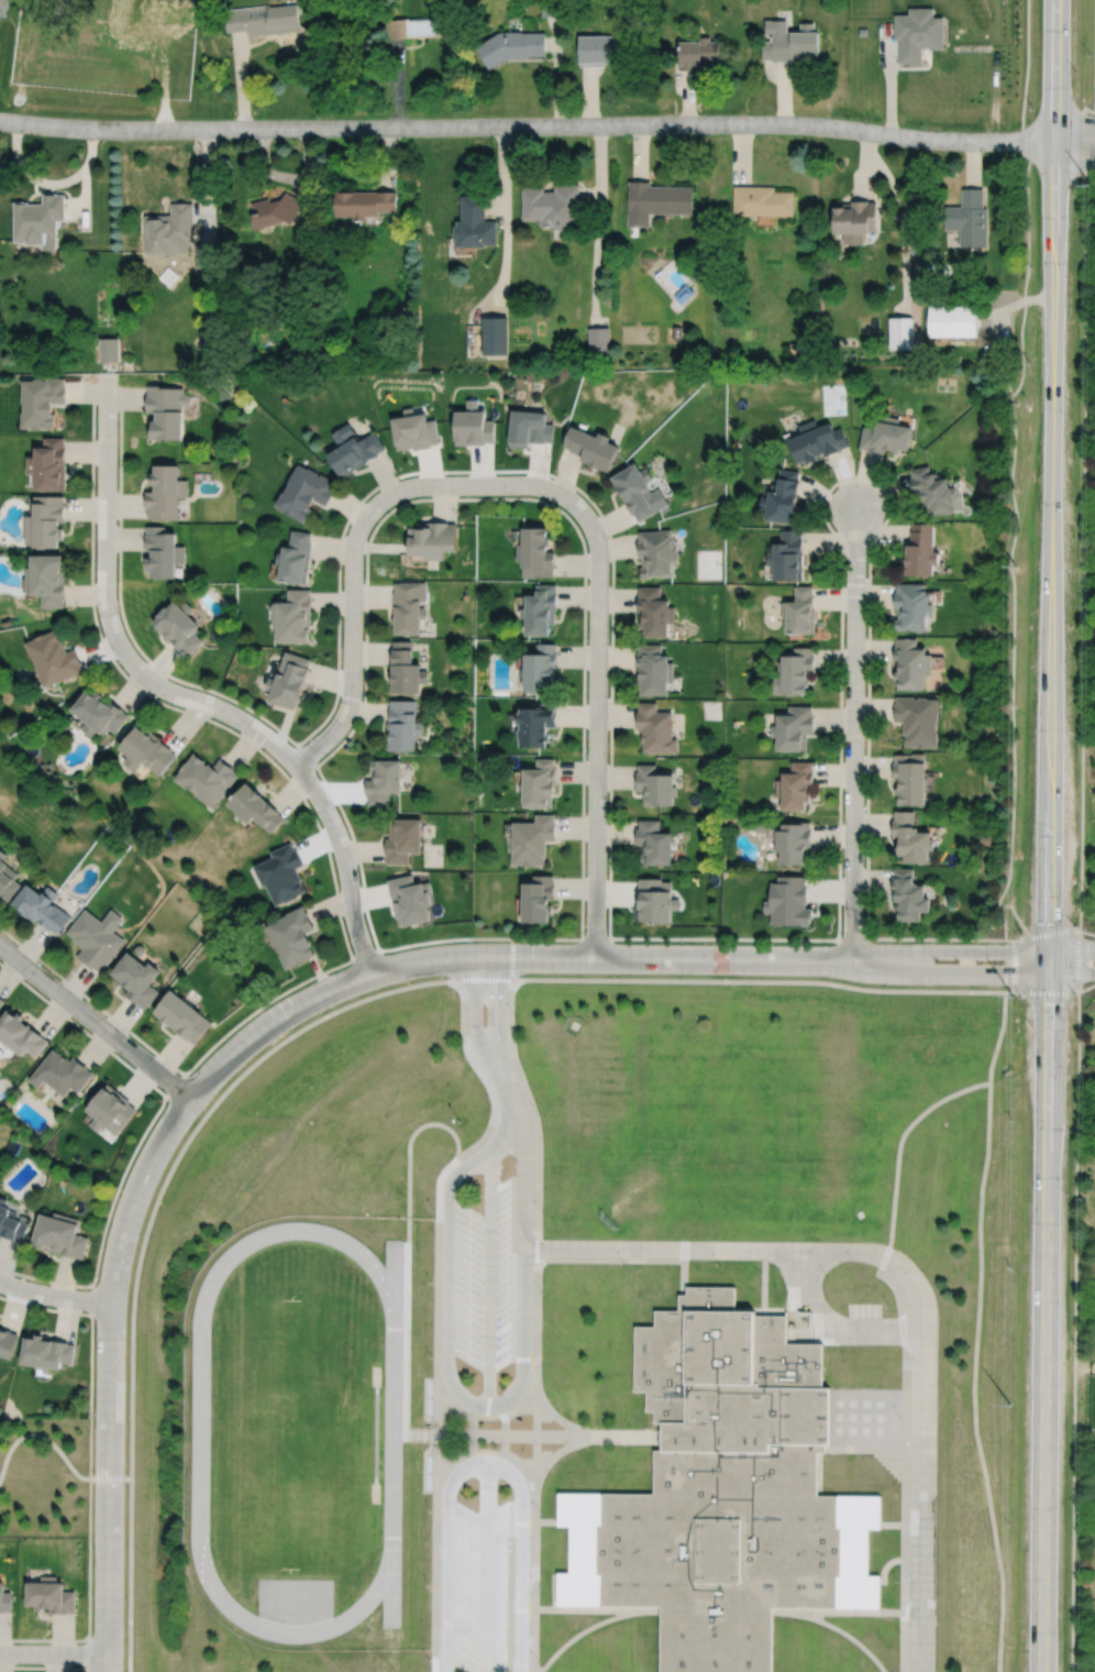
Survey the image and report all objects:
building: (549, 8)
building: (162, 10)
building: (262, 20)
building: (418, 26)
building: (917, 33)
building: (788, 42)
building: (511, 44)
road: (664, 47)
building: (601, 50)
building: (697, 53)
street lamp: (1076, 71)
road: (556, 73)
road: (162, 79)
road: (891, 79)
road: (240, 80)
road: (1025, 80)
road: (396, 82)
road: (784, 94)
road: (590, 97)
road: (689, 98)
road: (1088, 110)
road: (527, 127)
road: (1074, 133)
road: (1083, 139)
road: (1074, 150)
road: (640, 152)
road: (742, 154)
road: (386, 156)
road: (866, 163)
road: (972, 164)
street lamp: (1094, 168)
road: (1052, 169)
road: (1088, 170)
road: (285, 177)
road: (49, 183)
road: (204, 186)
road: (84, 197)
building: (656, 200)
building: (762, 200)
building: (363, 201)
building: (551, 207)
building: (275, 209)
building: (972, 218)
building: (855, 219)
building: (37, 220)
building: (474, 222)
road: (599, 226)
road: (904, 226)
road: (506, 229)
building: (167, 230)
building: (912, 248)
building: (204, 257)
building: (684, 294)
road: (1016, 302)
building: (953, 320)
building: (676, 332)
building: (900, 332)
building: (495, 334)
building: (598, 339)
building: (204, 342)
building: (799, 348)
building: (108, 350)
building: (41, 402)
building: (165, 411)
building: (473, 425)
building: (528, 429)
building: (413, 430)
building: (886, 436)
building: (816, 441)
building: (352, 449)
building: (590, 449)
building: (48, 466)
street lamp: (444, 473)
road: (1051, 475)
street lamp: (551, 477)
road: (471, 484)
building: (933, 491)
building: (303, 492)
building: (639, 493)
building: (164, 494)
street lamp: (365, 498)
building: (782, 498)
street lamp: (884, 519)
building: (44, 521)
street lamp: (115, 522)
street lamp: (607, 537)
building: (432, 539)
road: (1011, 547)
building: (922, 551)
building: (162, 554)
building: (534, 554)
building: (656, 554)
building: (787, 557)
building: (295, 559)
street lamp: (363, 574)
road: (1083, 580)
building: (46, 581)
building: (408, 607)
building: (914, 607)
building: (539, 613)
building: (799, 613)
building: (654, 615)
building: (292, 618)
building: (177, 628)
street lamp: (866, 635)
street lamp: (587, 639)
road: (352, 647)
building: (53, 660)
street lamp: (118, 663)
building: (911, 663)
building: (407, 669)
building: (540, 669)
building: (794, 671)
building: (653, 672)
building: (289, 678)
road: (184, 695)
street lamp: (362, 695)
road: (584, 697)
building: (98, 711)
building: (917, 717)
street lamp: (213, 718)
park: (0, 723)
building: (539, 723)
building: (403, 724)
building: (793, 725)
road: (597, 728)
building: (654, 728)
road: (853, 734)
building: (146, 748)
street lamp: (864, 749)
street lamp: (586, 755)
road: (306, 756)
building: (207, 777)
street lamp: (319, 777)
building: (910, 777)
building: (384, 779)
building: (541, 782)
building: (653, 783)
building: (794, 783)
building: (255, 805)
building: (911, 836)
road: (322, 837)
building: (403, 838)
building: (533, 838)
building: (653, 842)
building: (793, 842)
street lamp: (863, 865)
street lamp: (585, 870)
building: (283, 873)
building: (7, 877)
street lamp: (339, 889)
building: (908, 894)
building: (539, 899)
building: (409, 900)
building: (654, 901)
building: (788, 901)
building: (42, 906)
road: (609, 909)
road: (1086, 932)
street lamp: (1021, 935)
building: (295, 936)
building: (97, 937)
road: (595, 938)
road: (852, 938)
street lamp: (472, 941)
street lamp: (569, 942)
street lamp: (720, 943)
street lamp: (826, 945)
road: (1071, 949)
road: (949, 950)
traffic signals: (1048, 950)
road: (365, 955)
road: (499, 956)
road: (511, 958)
road: (1048, 963)
road: (1017, 965)
street lamp: (342, 967)
road: (949, 974)
road: (1071, 974)
traffic signals: (1048, 976)
building: (137, 978)
road: (482, 979)
road: (757, 980)
street lamp: (25, 981)
road: (1086, 987)
road: (1010, 991)
road: (1048, 992)
building: (1, 1001)
street lamp: (262, 1010)
building: (184, 1016)
road: (495, 1016)
road: (475, 1021)
road: (96, 1022)
building: (21, 1034)
street lamp: (131, 1035)
road: (1000, 1037)
park: (626, 1059)
street lamp: (192, 1070)
building: (63, 1072)
road: (484, 1075)
road: (506, 1083)
road: (175, 1086)
building: (112, 1110)
road: (532, 1112)
road: (504, 1120)
road: (143, 1133)
road: (898, 1153)
road: (463, 1167)
road: (527, 1167)
street lamp: (121, 1187)
park: (849, 1197)
building: (11, 1223)
building: (62, 1235)
road: (143, 1240)
road: (750, 1251)
road: (685, 1256)
road: (409, 1261)
road: (439, 1266)
road: (449, 1275)
street lamp: (98, 1276)
street lamp: (19, 1277)
road: (489, 1277)
parking lot: (482, 1281)
road: (764, 1281)
road: (395, 1287)
road: (54, 1296)
road: (898, 1297)
road: (92, 1298)
road: (812, 1301)
road: (538, 1317)
road: (1044, 1323)
road: (888, 1330)
road: (1074, 1331)
road: (821, 1333)
road: (526, 1339)
building: (8, 1343)
building: (48, 1354)
road: (109, 1375)
road: (973, 1378)
road: (906, 1389)
road: (455, 1390)
street lamp: (93, 1415)
road: (558, 1417)
road: (485, 1418)
road: (439, 1429)
park: (296, 1433)
park: (375, 1436)
road: (537, 1437)
road: (549, 1437)
road: (55, 1445)
road: (851, 1448)
road: (889, 1449)
road: (489, 1450)
road: (557, 1454)
road: (889, 1465)
road: (906, 1465)
road: (828, 1471)
road: (460, 1472)
road: (90, 1474)
park: (46, 1476)
building: (721, 1494)
road: (920, 1502)
road: (544, 1521)
road: (892, 1525)
road: (198, 1532)
street lamp: (91, 1539)
road: (905, 1547)
road: (522, 1558)
road: (487, 1566)
road: (885, 1568)
road: (436, 1575)
road: (446, 1579)
road: (533, 1580)
road: (392, 1584)
street lamp: (540, 1586)
parking lot: (478, 1588)
building: (53, 1596)
building: (5, 1599)
road: (580, 1609)
road: (643, 1610)
road: (850, 1613)
road: (834, 1627)
road: (578, 1632)
road: (904, 1642)
road: (54, 1653)
road: (88, 1653)
street lamp: (430, 1660)
street lamp: (539, 1661)
street lamp: (20, 1664)
road: (446, 1665)
road: (46, 1667)

